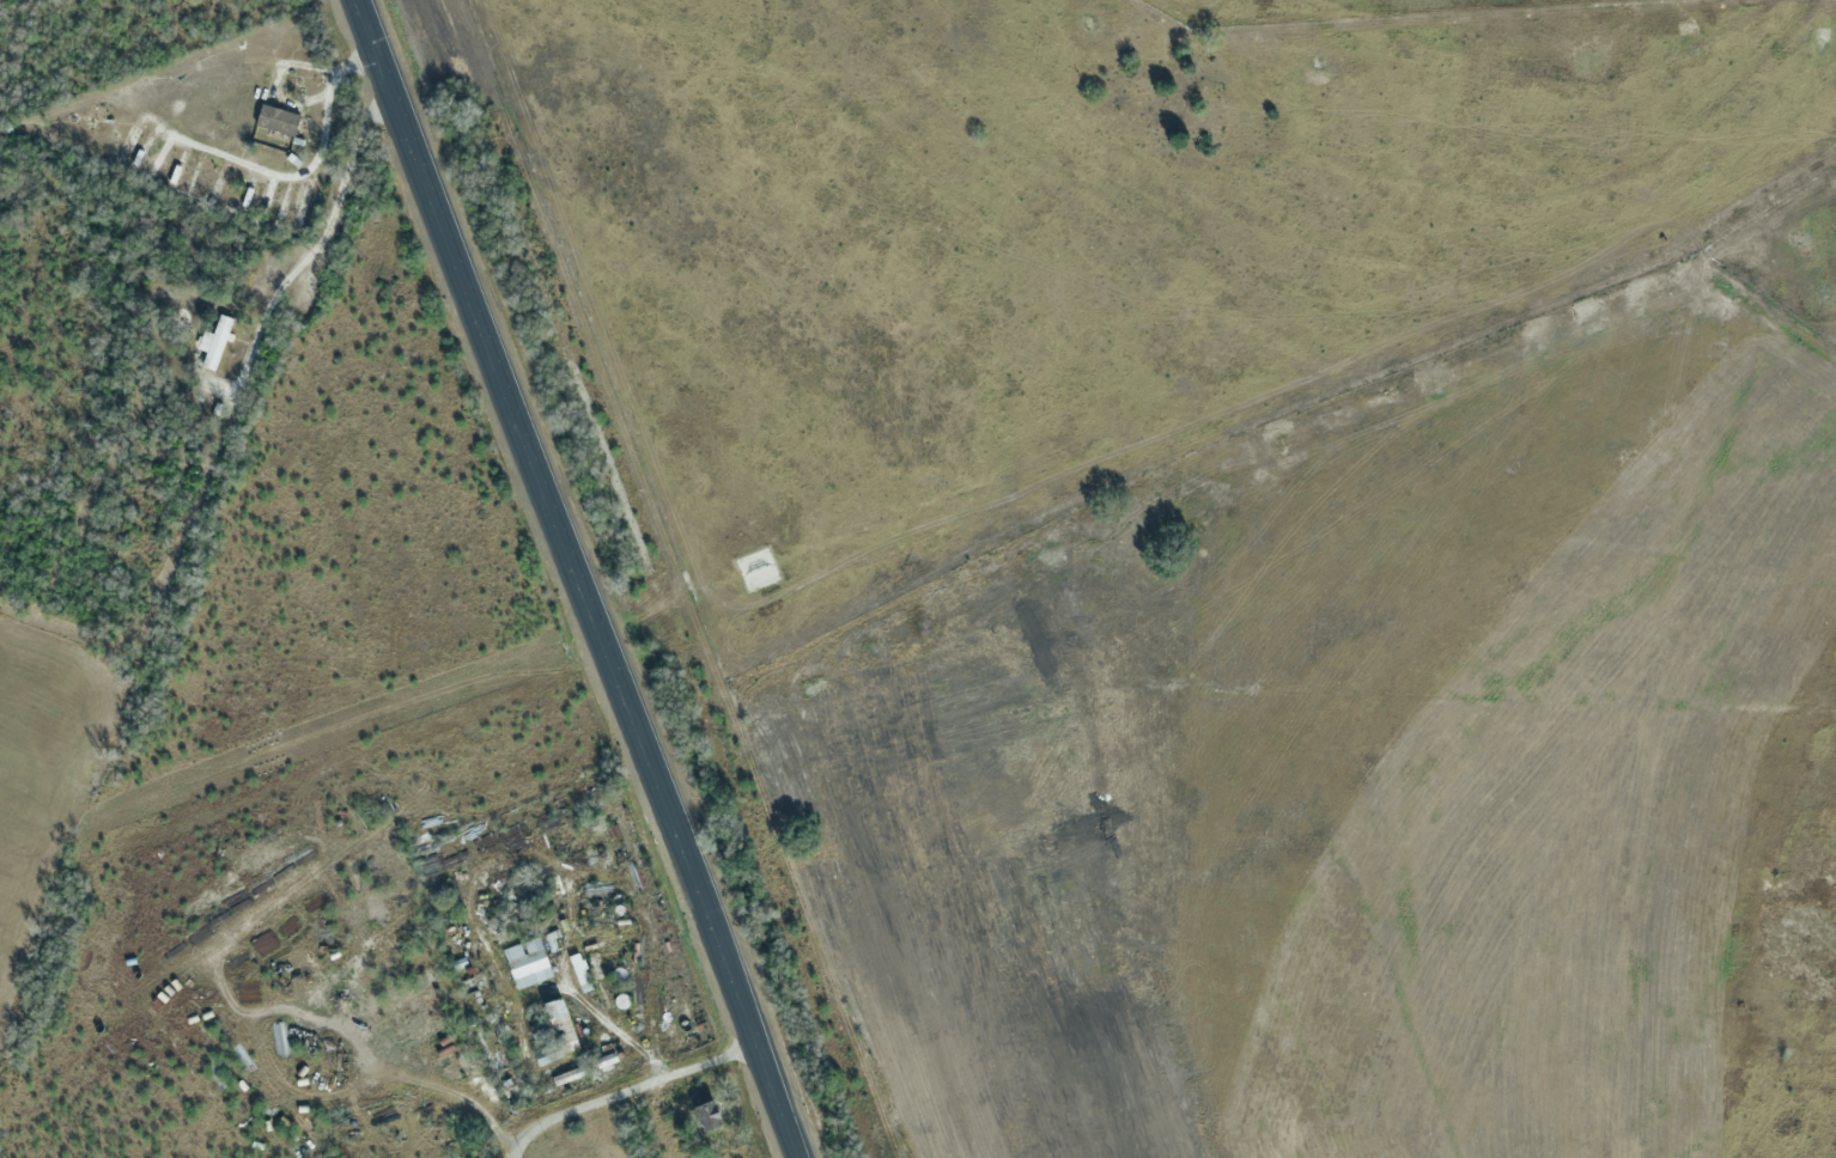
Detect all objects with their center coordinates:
building: (278, 118)
road: (306, 255)
building: (215, 341)
road: (570, 579)
building: (375, 902)
building: (527, 963)
building: (554, 1031)
road: (627, 1086)
building: (710, 1115)
road: (512, 1152)

